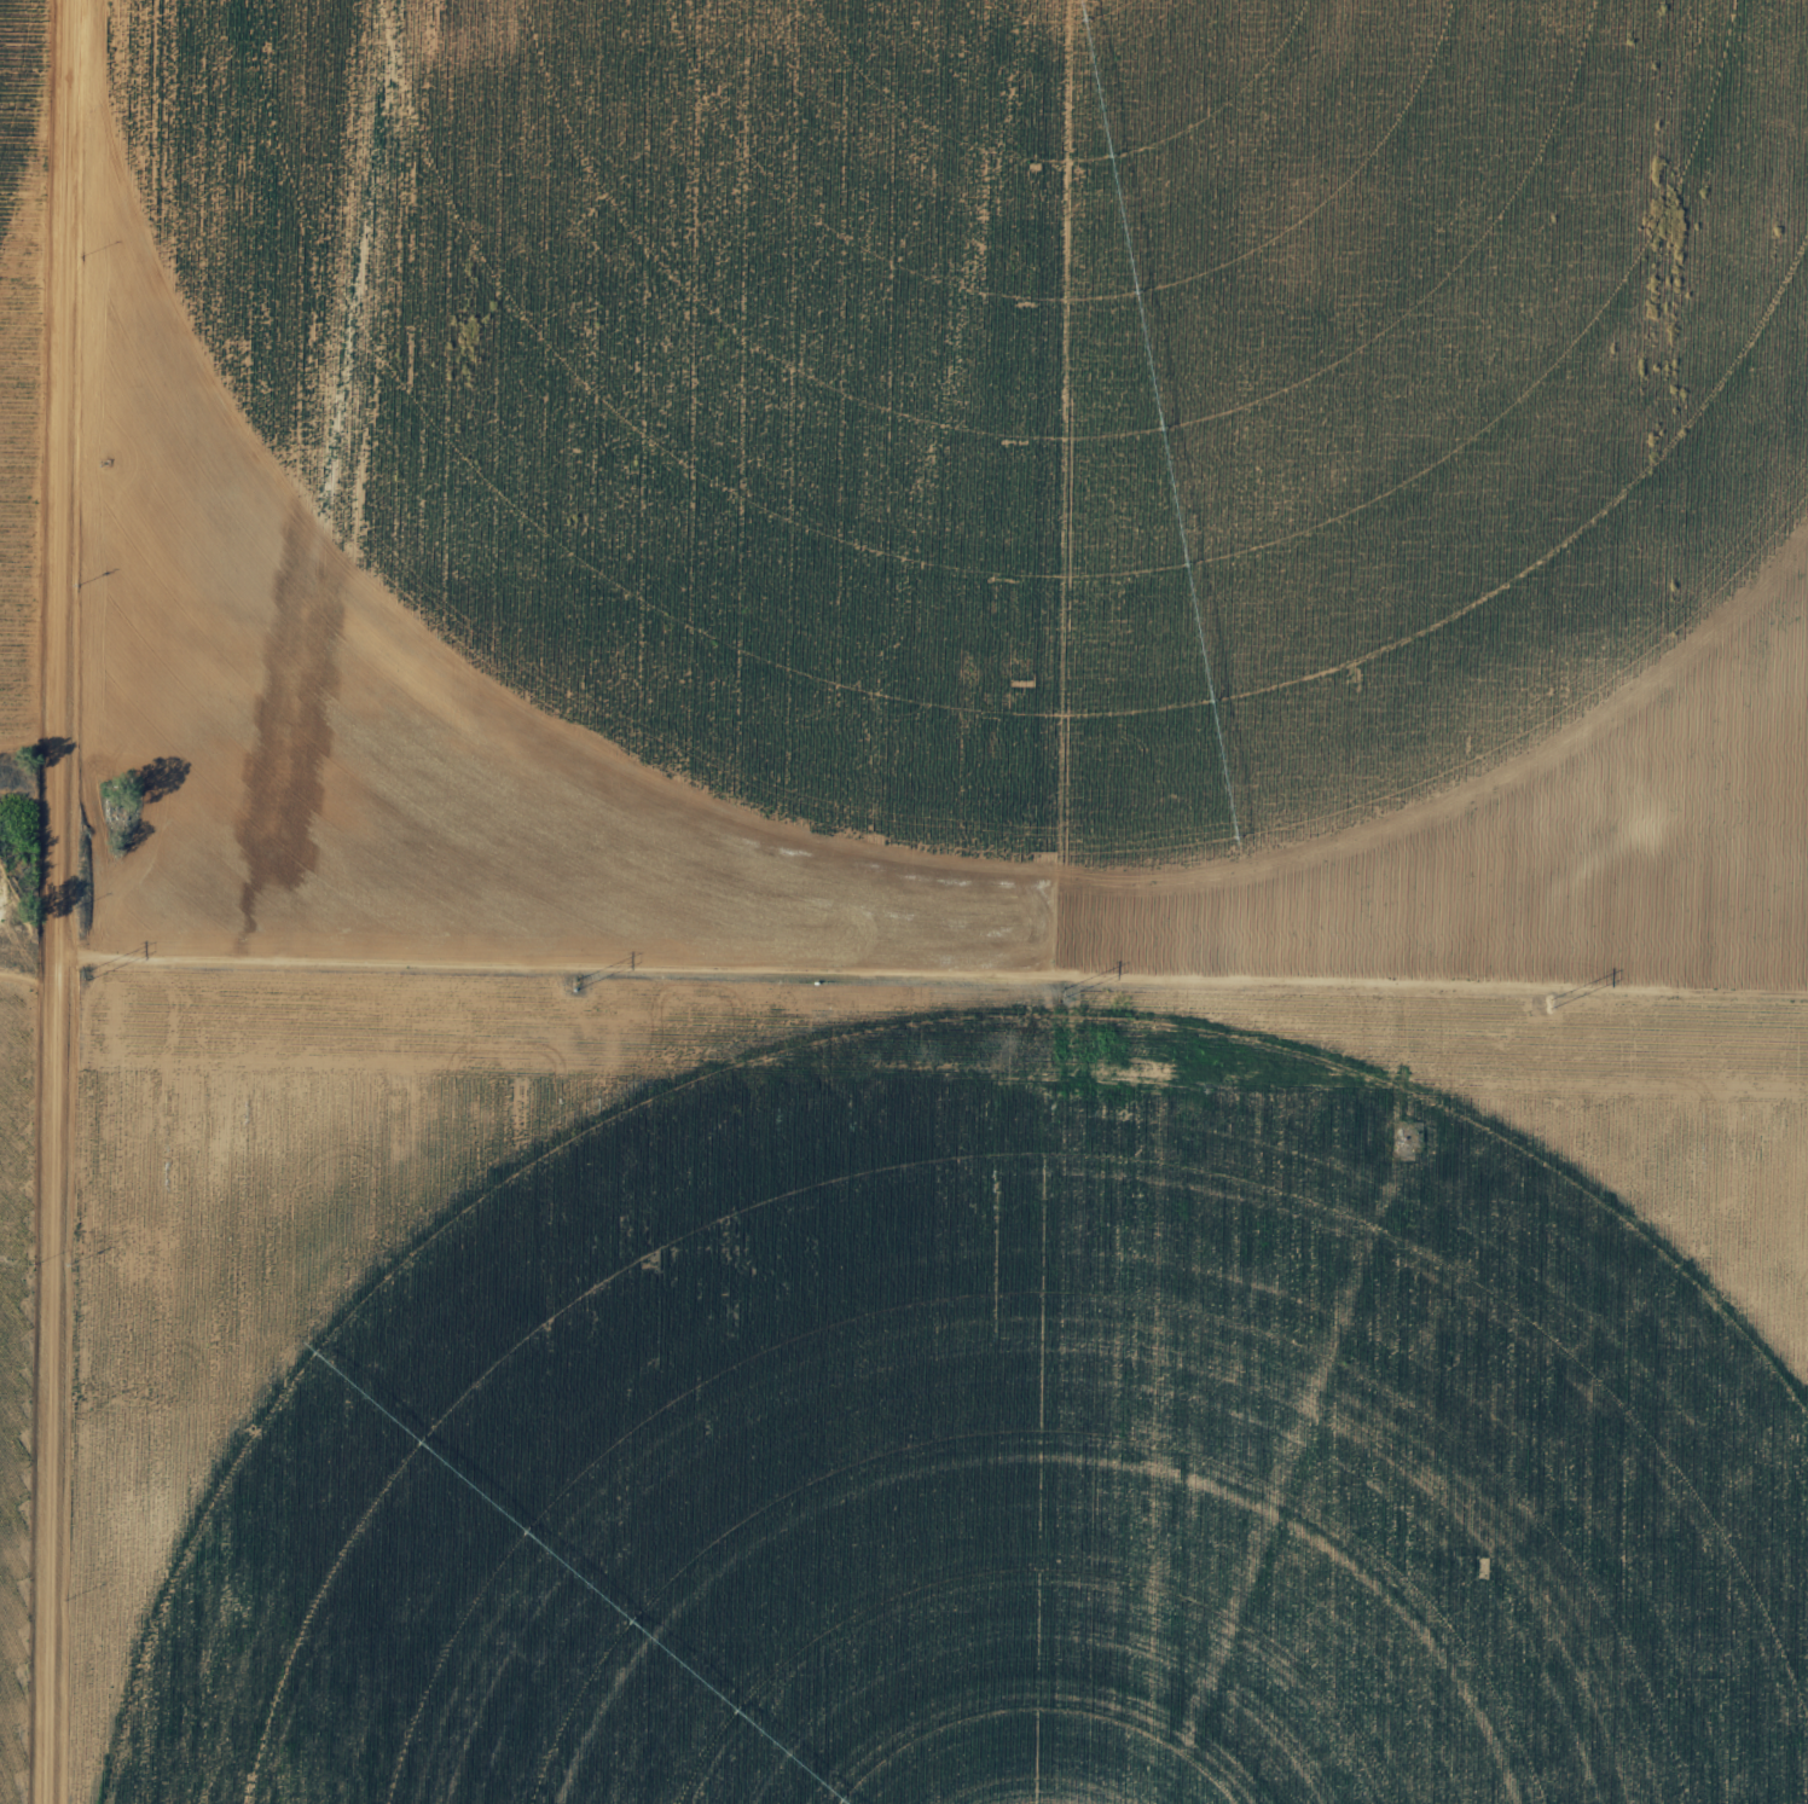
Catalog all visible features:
road: (60, 901)
road: (903, 998)

